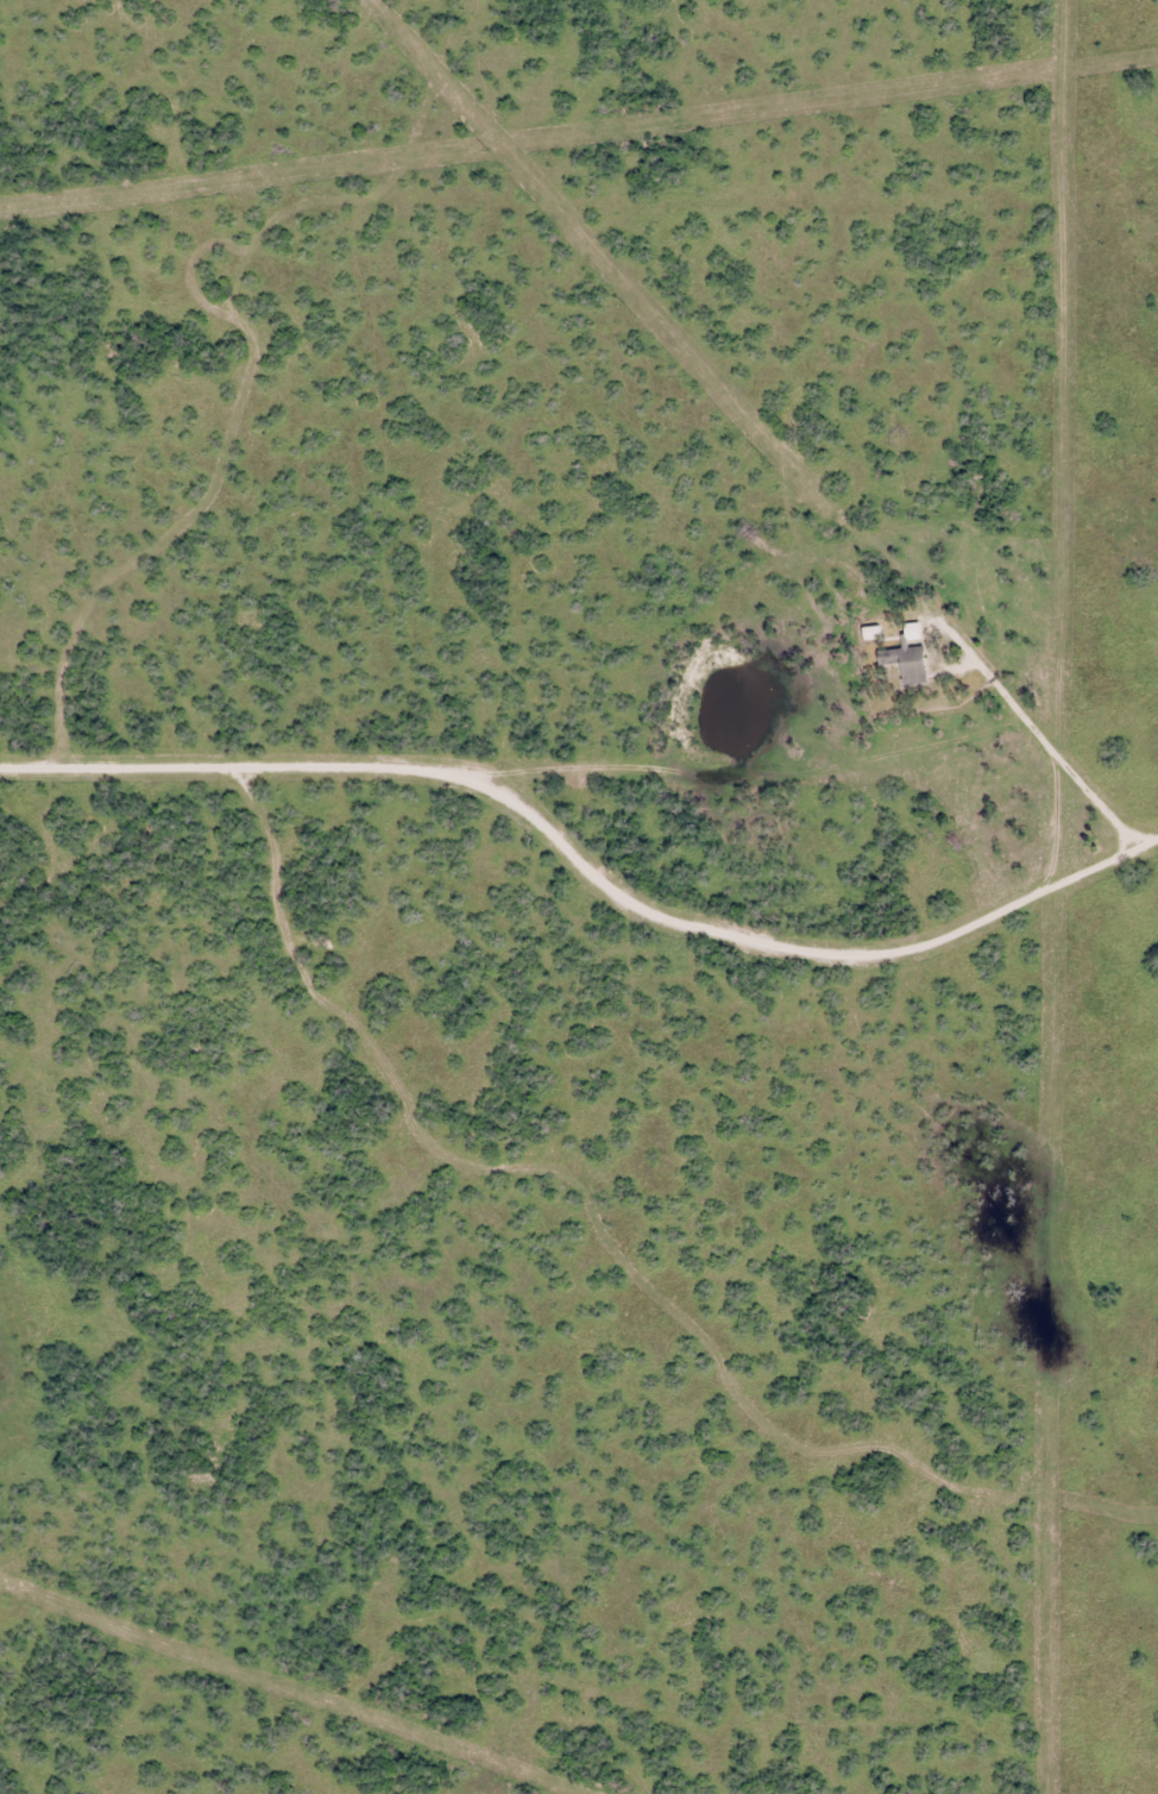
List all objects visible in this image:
building: (914, 635)
building: (915, 665)

